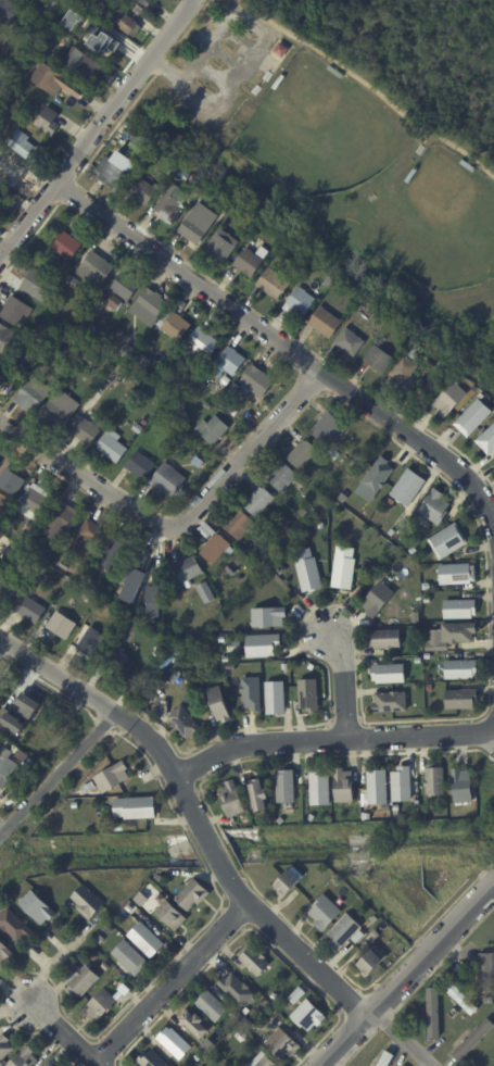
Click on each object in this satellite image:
building: (147, 2)
building: (52, 5)
building: (9, 10)
building: (72, 18)
building: (63, 22)
building: (126, 23)
building: (29, 36)
building: (51, 41)
building: (104, 47)
building: (282, 50)
road: (253, 51)
building: (84, 65)
building: (335, 72)
building: (5, 79)
building: (55, 81)
building: (279, 81)
building: (17, 102)
building: (48, 121)
road: (93, 123)
building: (1, 126)
building: (139, 141)
building: (26, 147)
park: (333, 156)
building: (469, 166)
building: (9, 171)
building: (114, 173)
building: (411, 176)
building: (202, 183)
building: (143, 190)
building: (1, 191)
building: (204, 199)
building: (170, 205)
building: (197, 227)
building: (67, 247)
building: (224, 247)
building: (297, 258)
building: (249, 263)
building: (96, 268)
building: (65, 271)
building: (73, 272)
building: (72, 281)
building: (330, 281)
building: (37, 285)
building: (274, 285)
building: (126, 286)
building: (115, 302)
building: (300, 304)
building: (151, 308)
building: (14, 311)
building: (75, 316)
building: (326, 323)
building: (177, 326)
building: (97, 335)
building: (7, 338)
building: (73, 340)
building: (381, 341)
building: (351, 342)
building: (204, 343)
road: (284, 344)
building: (113, 346)
building: (128, 352)
building: (413, 352)
building: (93, 356)
building: (380, 360)
building: (142, 362)
building: (229, 363)
building: (404, 369)
building: (226, 380)
building: (255, 384)
building: (180, 385)
building: (7, 387)
building: (34, 396)
building: (451, 400)
building: (180, 402)
building: (60, 411)
building: (233, 411)
building: (179, 416)
building: (472, 416)
building: (144, 423)
building: (138, 429)
building: (213, 429)
building: (330, 430)
building: (87, 431)
building: (487, 441)
building: (113, 446)
road: (248, 450)
building: (303, 454)
building: (333, 454)
building: (370, 454)
building: (356, 462)
building: (0, 464)
building: (141, 466)
building: (379, 476)
building: (282, 477)
road: (84, 478)
building: (168, 480)
building: (11, 482)
building: (408, 488)
building: (259, 502)
building: (35, 504)
building: (436, 507)
building: (307, 512)
building: (61, 523)
building: (241, 526)
building: (321, 526)
building: (392, 534)
building: (404, 539)
building: (88, 540)
building: (22, 541)
building: (448, 543)
building: (4, 544)
building: (269, 547)
building: (217, 550)
building: (414, 551)
building: (46, 554)
building: (115, 554)
building: (239, 560)
building: (363, 564)
building: (262, 565)
building: (65, 566)
building: (281, 568)
building: (344, 569)
building: (189, 570)
building: (232, 570)
building: (375, 570)
building: (308, 572)
building: (38, 575)
building: (457, 575)
building: (35, 580)
building: (132, 584)
building: (427, 587)
building: (102, 589)
building: (9, 592)
building: (206, 593)
building: (233, 597)
building: (90, 599)
building: (153, 600)
building: (379, 601)
building: (428, 601)
building: (460, 610)
building: (31, 611)
building: (117, 617)
building: (269, 618)
building: (62, 626)
building: (168, 629)
building: (459, 634)
building: (387, 640)
building: (90, 643)
building: (263, 647)
building: (228, 657)
building: (429, 657)
building: (418, 662)
building: (122, 663)
building: (286, 668)
building: (461, 670)
building: (390, 675)
road: (341, 686)
building: (2, 688)
building: (252, 694)
building: (309, 697)
building: (276, 699)
building: (461, 700)
building: (391, 703)
building: (219, 706)
building: (27, 711)
building: (48, 725)
building: (186, 725)
building: (1, 740)
road: (331, 742)
building: (8, 744)
building: (0, 747)
building: (21, 756)
building: (7, 766)
road: (56, 774)
building: (112, 774)
building: (435, 781)
building: (88, 786)
building: (403, 786)
building: (463, 787)
building: (286, 788)
building: (344, 788)
building: (378, 789)
building: (320, 790)
building: (259, 800)
building: (231, 801)
building: (73, 802)
building: (134, 805)
building: (397, 810)
road: (193, 814)
building: (383, 816)
building: (312, 818)
building: (281, 823)
building: (118, 828)
road: (1, 832)
building: (160, 878)
building: (339, 883)
building: (287, 887)
building: (192, 894)
building: (88, 902)
building: (342, 902)
building: (37, 907)
building: (130, 908)
building: (123, 910)
building: (172, 915)
building: (326, 915)
building: (140, 917)
building: (375, 920)
building: (15, 925)
building: (344, 933)
building: (376, 937)
building: (101, 939)
building: (145, 940)
building: (4, 952)
building: (131, 957)
building: (254, 961)
road: (53, 962)
building: (373, 964)
building: (105, 966)
building: (487, 973)
road: (405, 974)
building: (84, 981)
road: (170, 983)
building: (237, 989)
building: (295, 994)
building: (473, 994)
building: (274, 995)
building: (463, 999)
building: (490, 1000)
building: (262, 1004)
building: (100, 1005)
building: (212, 1005)
building: (434, 1013)
building: (237, 1014)
building: (308, 1016)
building: (195, 1024)
building: (249, 1024)
road: (63, 1032)
building: (244, 1033)
road: (400, 1038)
building: (473, 1040)
building: (176, 1043)
building: (283, 1044)
building: (4, 1048)
building: (206, 1049)
building: (199, 1057)
building: (217, 1057)
building: (25, 1058)
building: (152, 1059)
building: (387, 1061)
building: (268, 1062)
building: (51, 1065)

